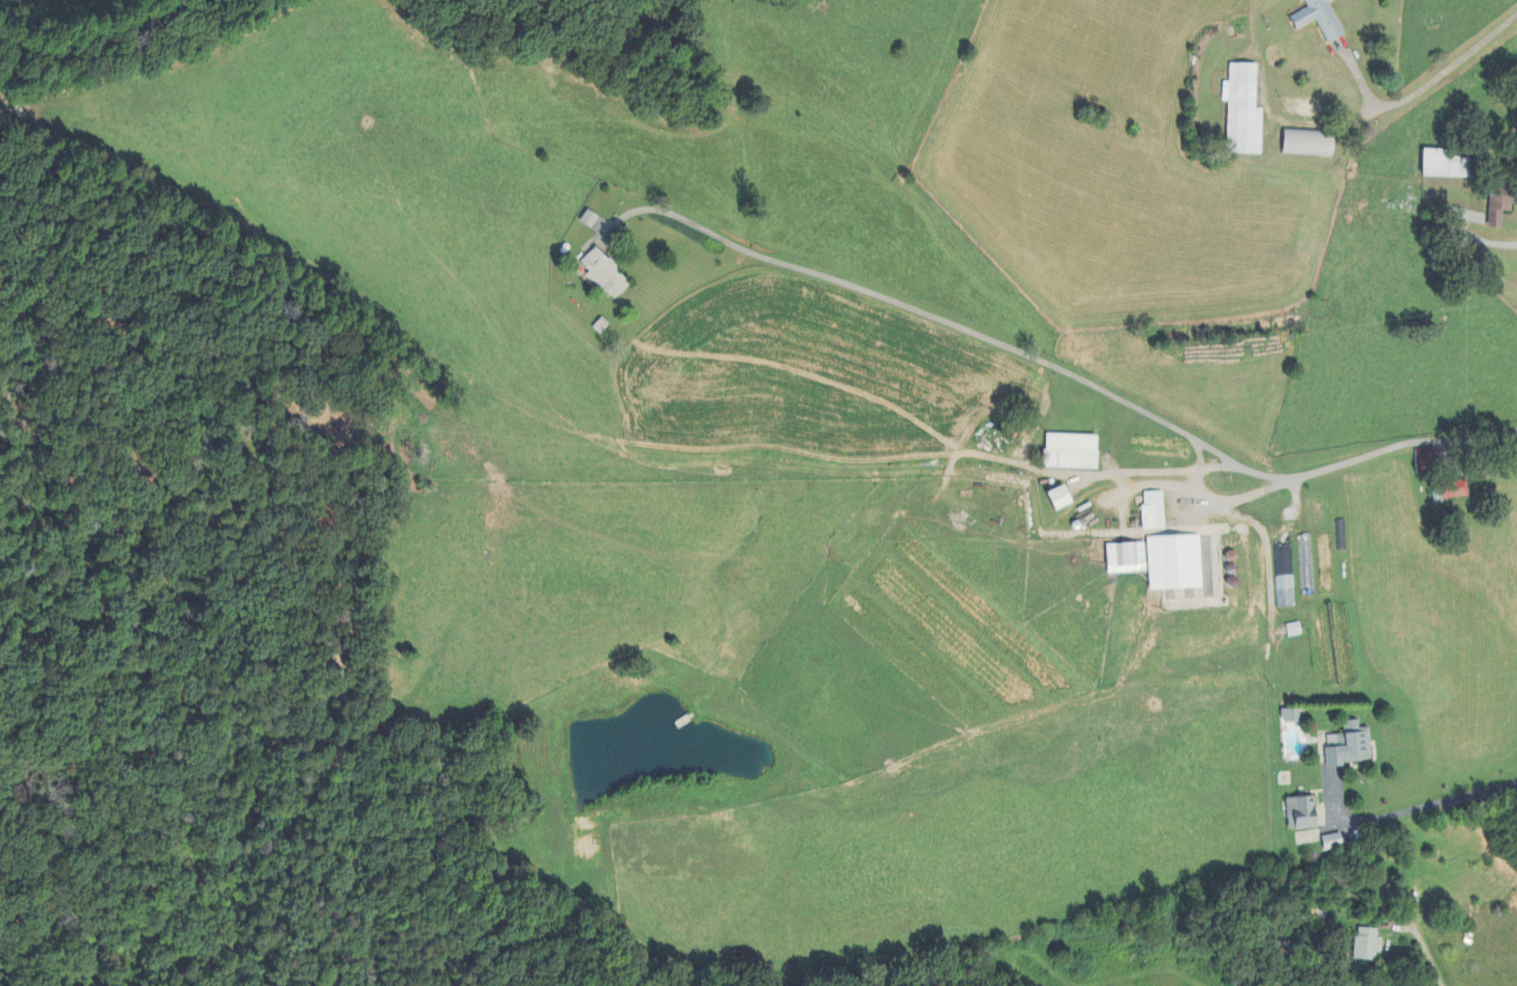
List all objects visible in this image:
building: (1315, 18)
road: (1424, 85)
building: (1239, 112)
building: (1303, 144)
building: (1438, 166)
building: (612, 274)
road: (1084, 383)
building: (1066, 453)
building: (1053, 499)
building: (1151, 513)
building: (1123, 559)
building: (1171, 564)
building: (1291, 631)
building: (1287, 717)
building: (1346, 747)
road: (1415, 809)
building: (1298, 815)
building: (1329, 843)
building: (1365, 946)
road: (1427, 957)

